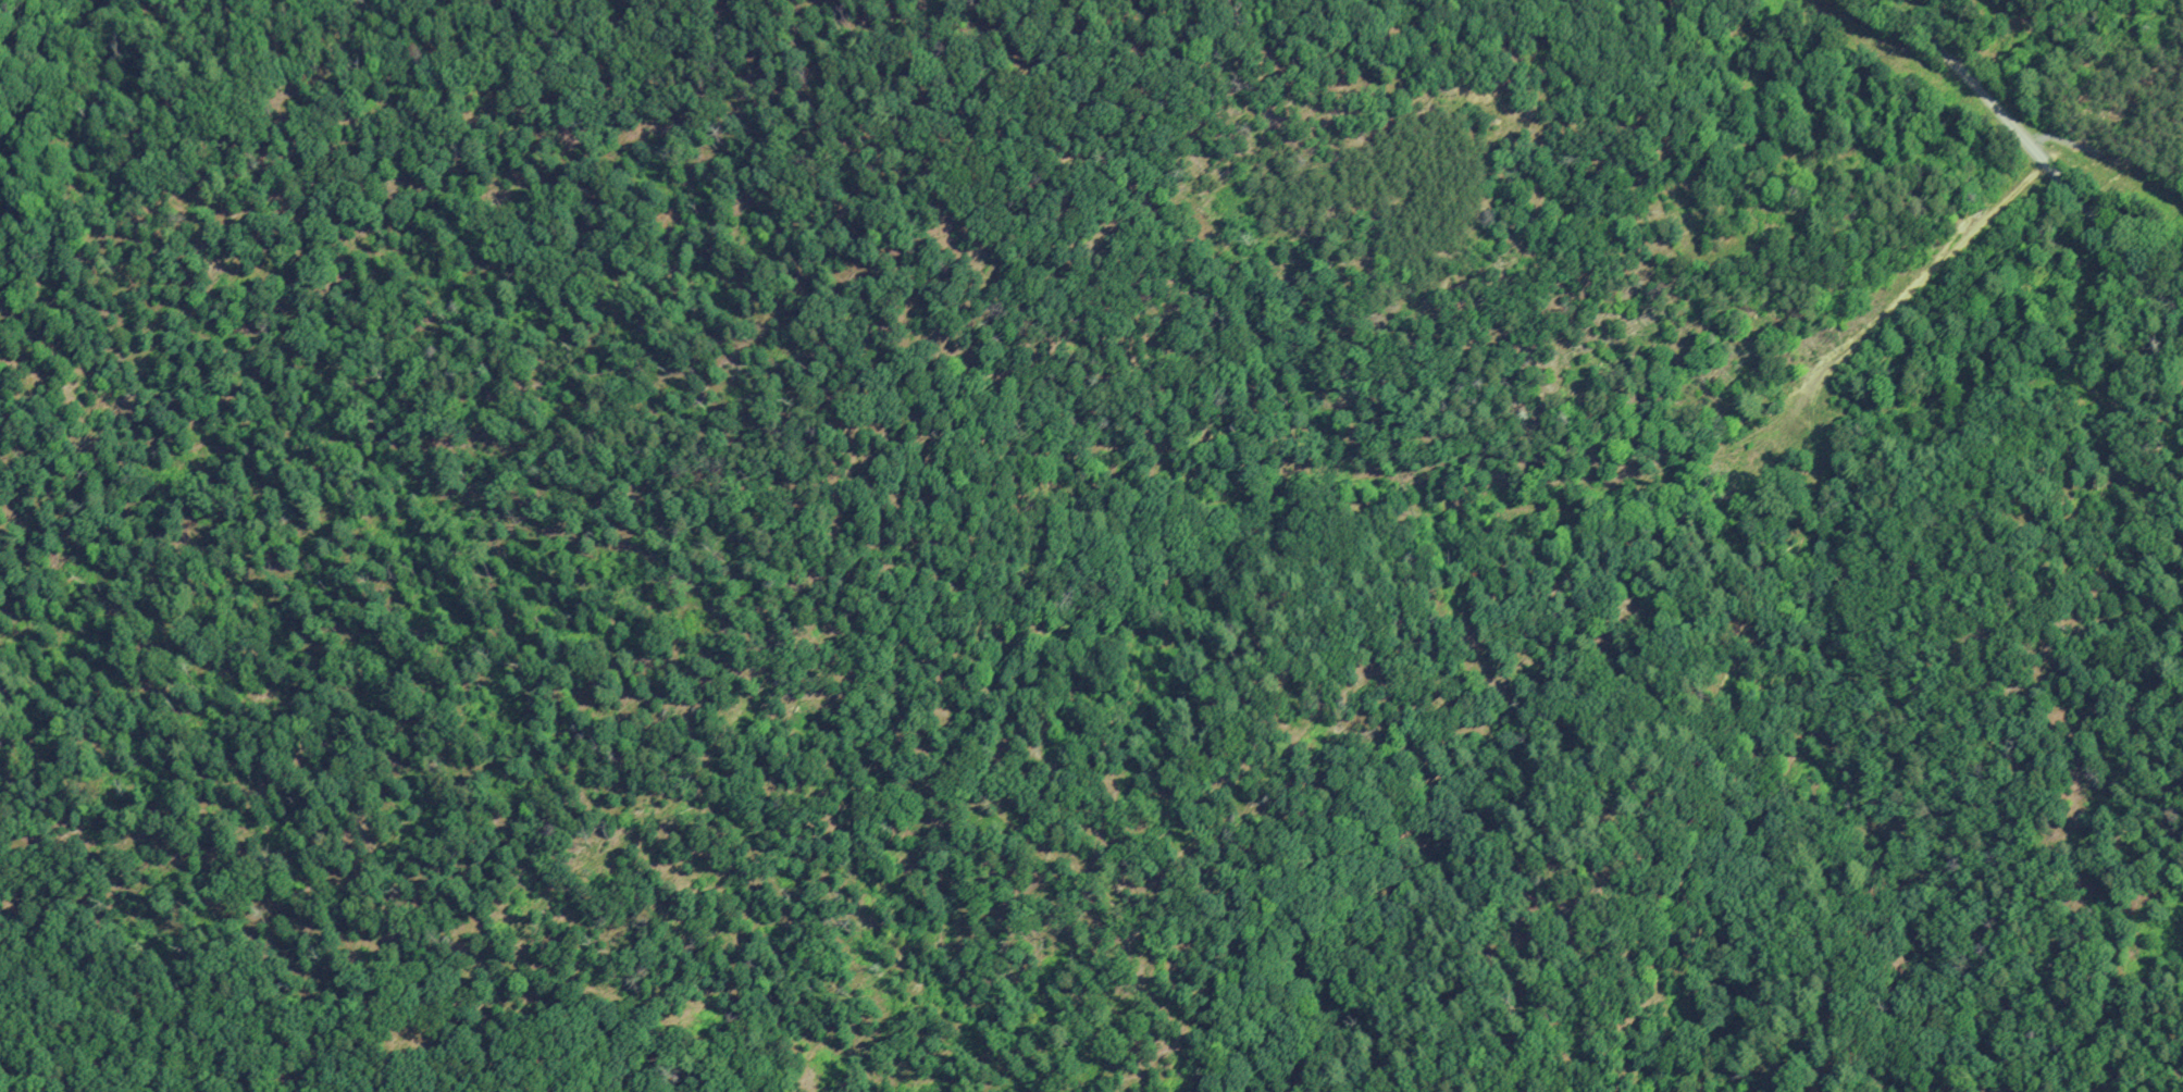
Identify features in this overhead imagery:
road: (2034, 149)

